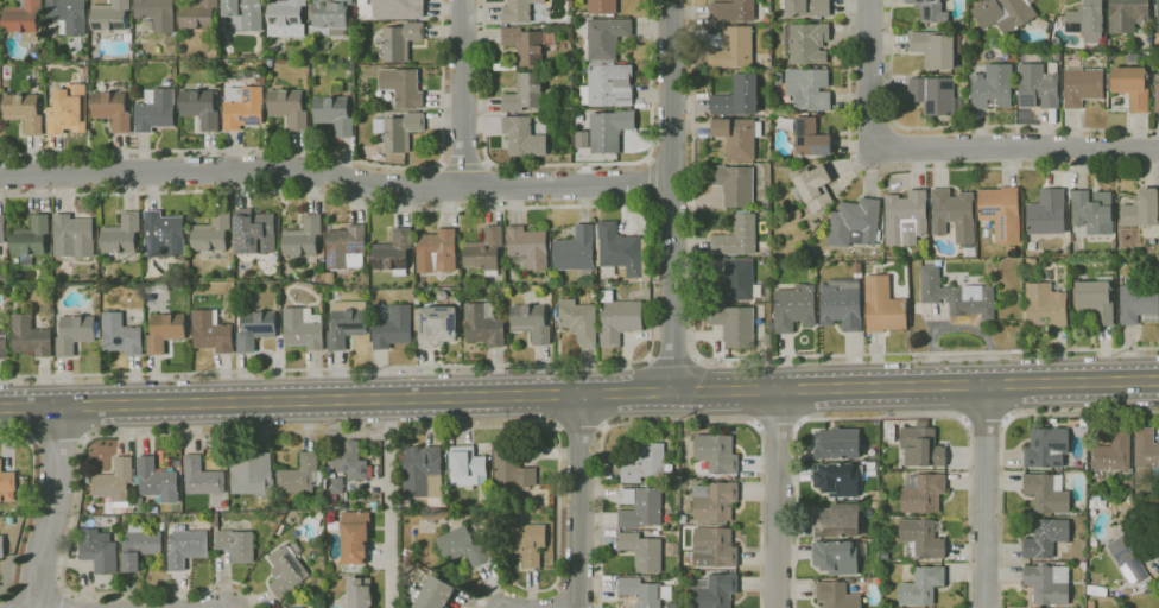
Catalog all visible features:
building: (602, 7)
building: (805, 7)
building: (399, 8)
building: (518, 11)
building: (733, 11)
building: (931, 11)
building: (245, 12)
building: (1003, 13)
building: (156, 14)
building: (198, 14)
building: (1127, 14)
building: (1158, 14)
building: (68, 15)
building: (109, 15)
building: (285, 18)
building: (328, 18)
building: (24, 20)
building: (767, 20)
building: (1087, 20)
building: (606, 37)
building: (400, 40)
building: (806, 43)
building: (526, 45)
building: (936, 47)
building: (733, 49)
building: (270, 62)
building: (766, 72)
road: (869, 75)
building: (778, 76)
building: (1133, 83)
building: (1038, 84)
building: (346, 85)
building: (608, 85)
building: (1082, 85)
building: (403, 87)
building: (993, 87)
building: (809, 88)
building: (525, 93)
road: (464, 94)
building: (1157, 94)
building: (933, 95)
building: (737, 96)
building: (242, 107)
building: (201, 108)
building: (289, 108)
building: (66, 109)
building: (112, 109)
building: (156, 109)
building: (767, 110)
building: (24, 112)
building: (334, 114)
road: (963, 127)
building: (398, 129)
building: (609, 131)
building: (522, 137)
building: (737, 137)
building: (811, 138)
building: (582, 140)
road: (1014, 147)
road: (302, 152)
road: (648, 159)
road: (441, 163)
road: (487, 163)
road: (566, 163)
building: (816, 163)
road: (463, 165)
road: (919, 169)
road: (335, 177)
road: (652, 182)
building: (734, 184)
building: (813, 186)
road: (671, 196)
road: (650, 207)
building: (1142, 209)
building: (1092, 211)
building: (1001, 213)
building: (1046, 213)
building: (952, 214)
building: (906, 217)
building: (854, 222)
building: (1, 229)
building: (211, 232)
building: (121, 234)
building: (254, 234)
building: (164, 235)
building: (72, 236)
building: (736, 236)
building: (31, 237)
building: (303, 237)
building: (1071, 237)
building: (344, 245)
building: (527, 247)
building: (620, 251)
building: (1011, 251)
building: (393, 252)
building: (436, 252)
building: (484, 252)
building: (576, 252)
building: (1031, 261)
building: (857, 267)
building: (285, 268)
building: (329, 278)
road: (652, 283)
building: (736, 283)
building: (185, 285)
building: (194, 285)
building: (502, 291)
building: (594, 293)
building: (442, 296)
building: (957, 296)
building: (1096, 299)
building: (417, 300)
building: (458, 300)
building: (1139, 303)
building: (841, 304)
building: (883, 305)
building: (1045, 305)
building: (794, 308)
building: (619, 318)
building: (578, 321)
building: (531, 322)
building: (346, 323)
building: (483, 324)
building: (737, 324)
building: (437, 327)
building: (393, 328)
building: (255, 329)
building: (303, 329)
building: (165, 331)
building: (211, 331)
building: (74, 334)
building: (120, 334)
building: (30, 336)
building: (4, 343)
building: (769, 351)
road: (673, 356)
road: (749, 357)
road: (579, 394)
road: (883, 418)
road: (682, 424)
building: (921, 424)
road: (778, 425)
road: (984, 426)
road: (579, 429)
road: (264, 435)
road: (1001, 435)
road: (57, 443)
building: (837, 444)
building: (921, 448)
building: (1046, 448)
building: (1146, 449)
building: (1113, 452)
building: (716, 454)
building: (349, 460)
building: (177, 462)
building: (644, 463)
building: (467, 465)
building: (512, 467)
building: (251, 471)
building: (423, 471)
building: (300, 475)
building: (202, 477)
building: (838, 479)
building: (6, 481)
building: (157, 481)
building: (114, 482)
building: (334, 486)
building: (923, 493)
building: (1046, 493)
road: (986, 496)
road: (778, 498)
road: (579, 501)
building: (715, 501)
road: (388, 502)
building: (483, 505)
road: (27, 507)
road: (55, 507)
building: (640, 507)
building: (9, 520)
building: (683, 520)
building: (837, 520)
building: (332, 525)
building: (163, 526)
building: (355, 537)
building: (921, 538)
building: (1045, 538)
building: (232, 541)
building: (522, 541)
building: (2, 546)
building: (139, 546)
building: (185, 546)
building: (461, 547)
building: (714, 547)
building: (672, 549)
building: (99, 550)
building: (642, 551)
building: (882, 556)
building: (838, 557)
building: (1128, 557)
building: (682, 563)
building: (329, 568)
building: (286, 569)
building: (361, 570)
building: (850, 581)
road: (577, 582)
building: (1047, 584)
road: (38, 587)
building: (921, 587)
building: (640, 591)
building: (714, 591)
building: (360, 593)
building: (435, 594)
building: (836, 595)
road: (63, 598)
building: (671, 606)
building: (289, 607)

